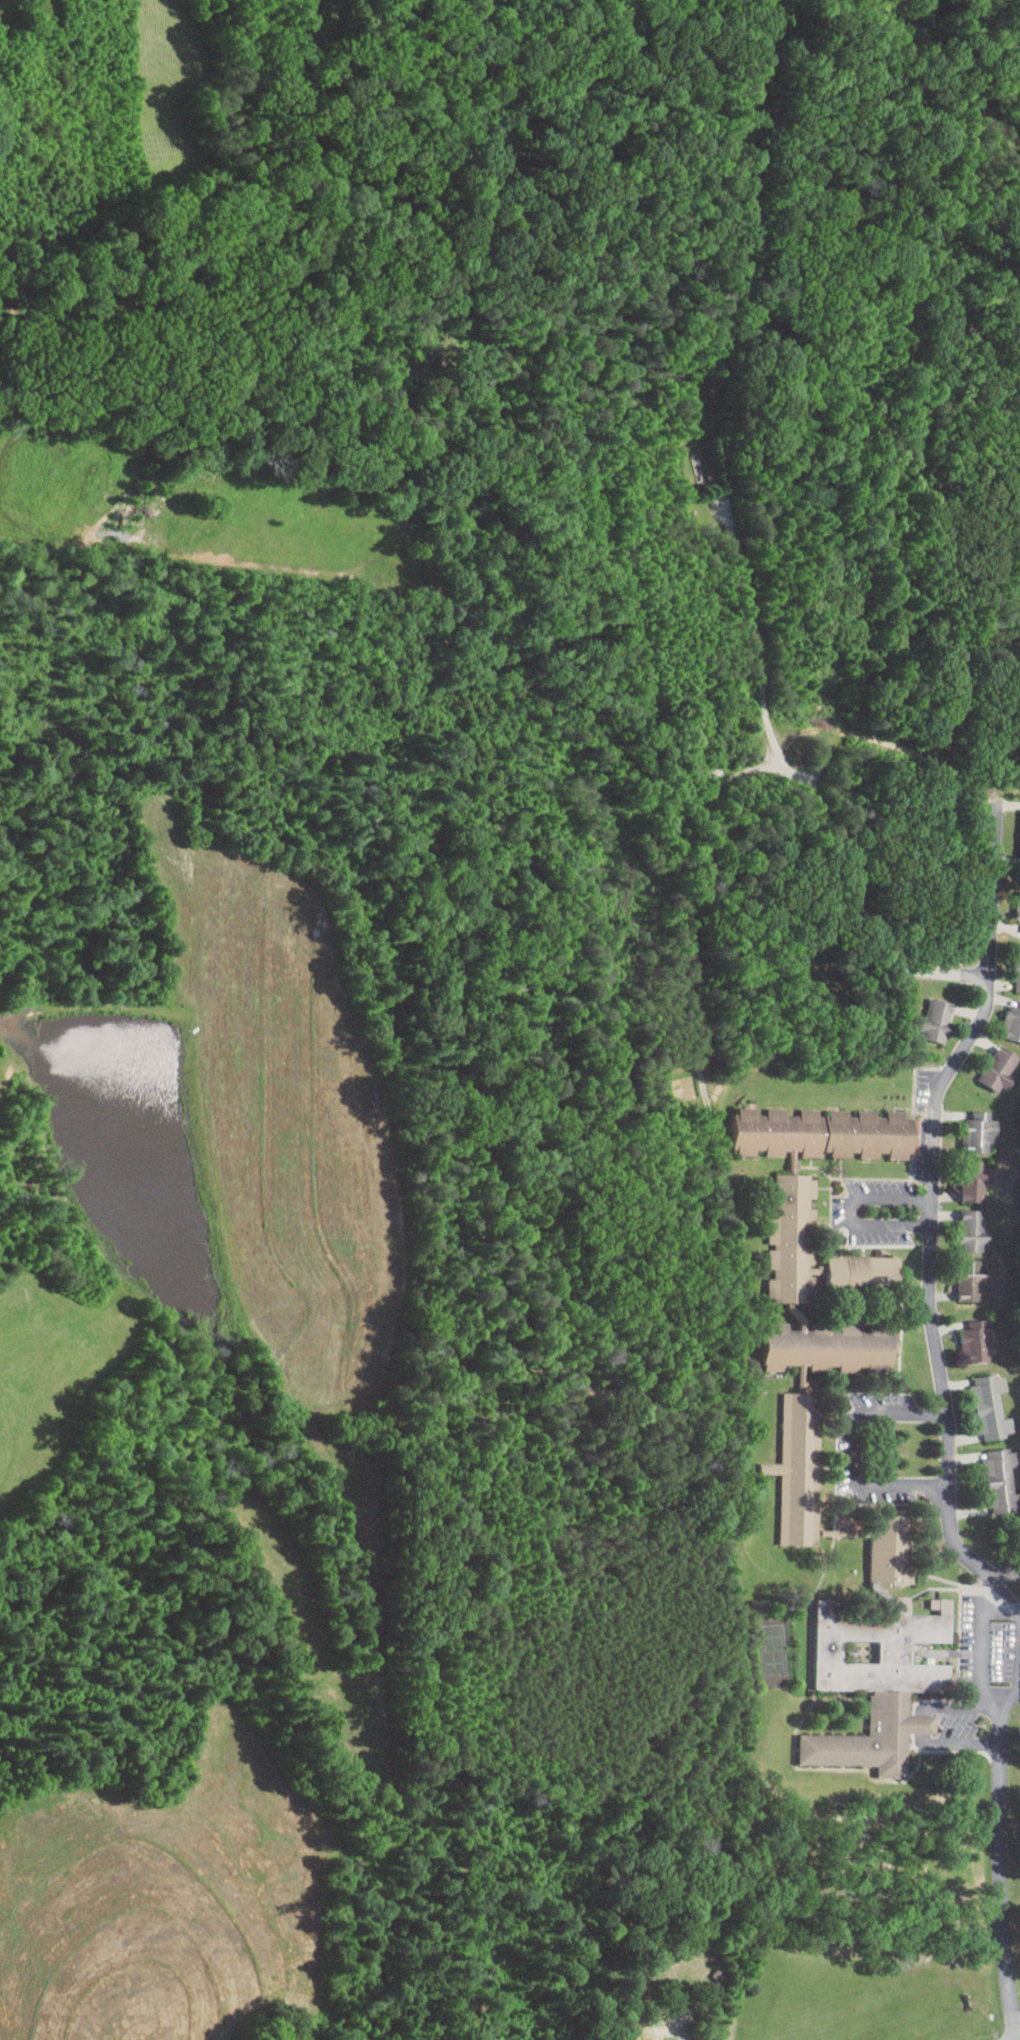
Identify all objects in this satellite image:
road: (971, 87)
road: (826, 758)
road: (804, 778)
road: (940, 782)
building: (1018, 913)
road: (698, 962)
building: (1019, 980)
building: (939, 1019)
building: (1000, 1067)
building: (827, 1132)
building: (978, 1132)
building: (975, 1205)
road: (852, 1210)
road: (936, 1211)
building: (793, 1238)
building: (863, 1270)
building: (973, 1279)
building: (980, 1340)
building: (833, 1346)
building: (993, 1406)
road: (862, 1448)
building: (1002, 1478)
building: (892, 1551)
road: (981, 1651)
building: (880, 1679)
road: (955, 1707)
road: (924, 1723)
road: (961, 1743)
road: (1004, 1859)
road: (666, 2019)

